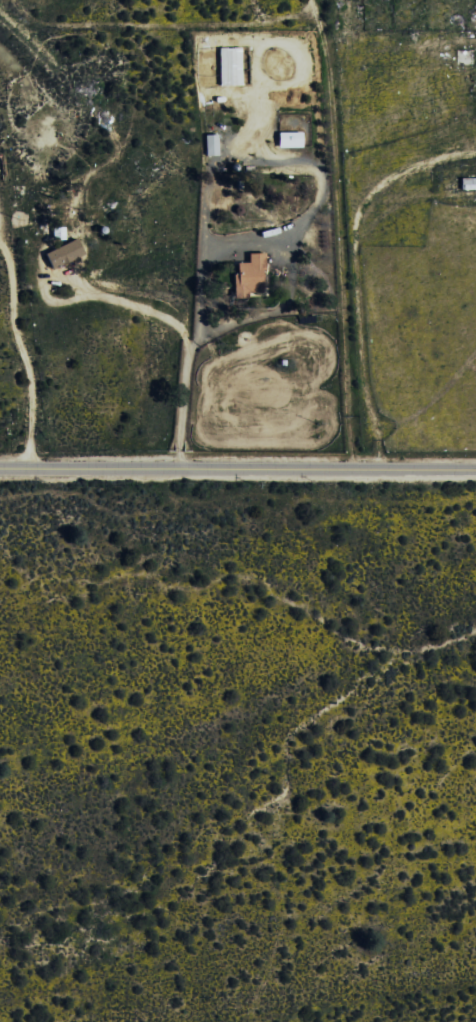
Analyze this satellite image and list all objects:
building: (287, 140)
building: (210, 145)
road: (340, 236)
building: (62, 254)
building: (247, 277)
road: (237, 472)

